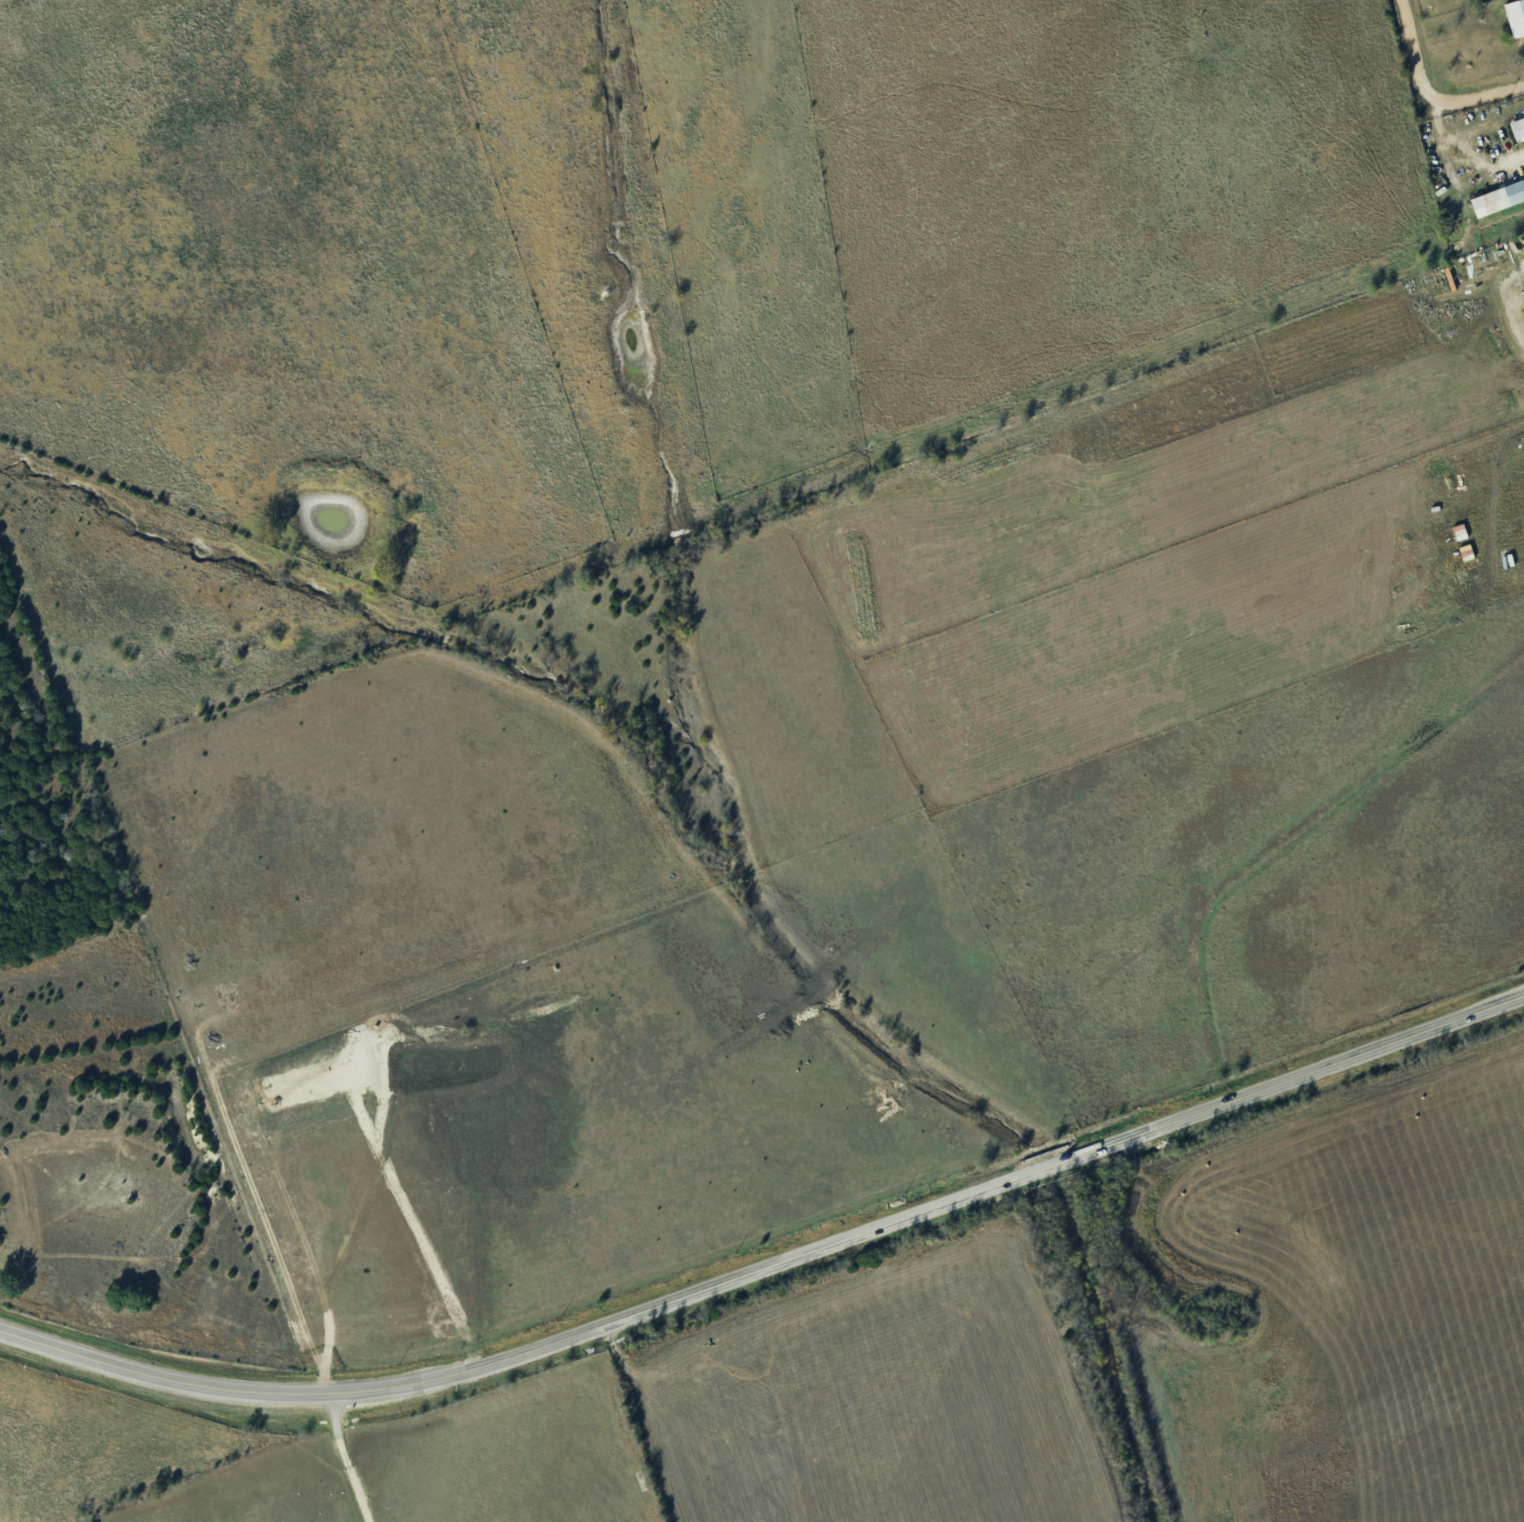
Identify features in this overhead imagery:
building: (1517, 15)
road: (1430, 93)
building: (1515, 133)
building: (1523, 176)
building: (1495, 203)
road: (772, 1266)
road: (352, 1459)

